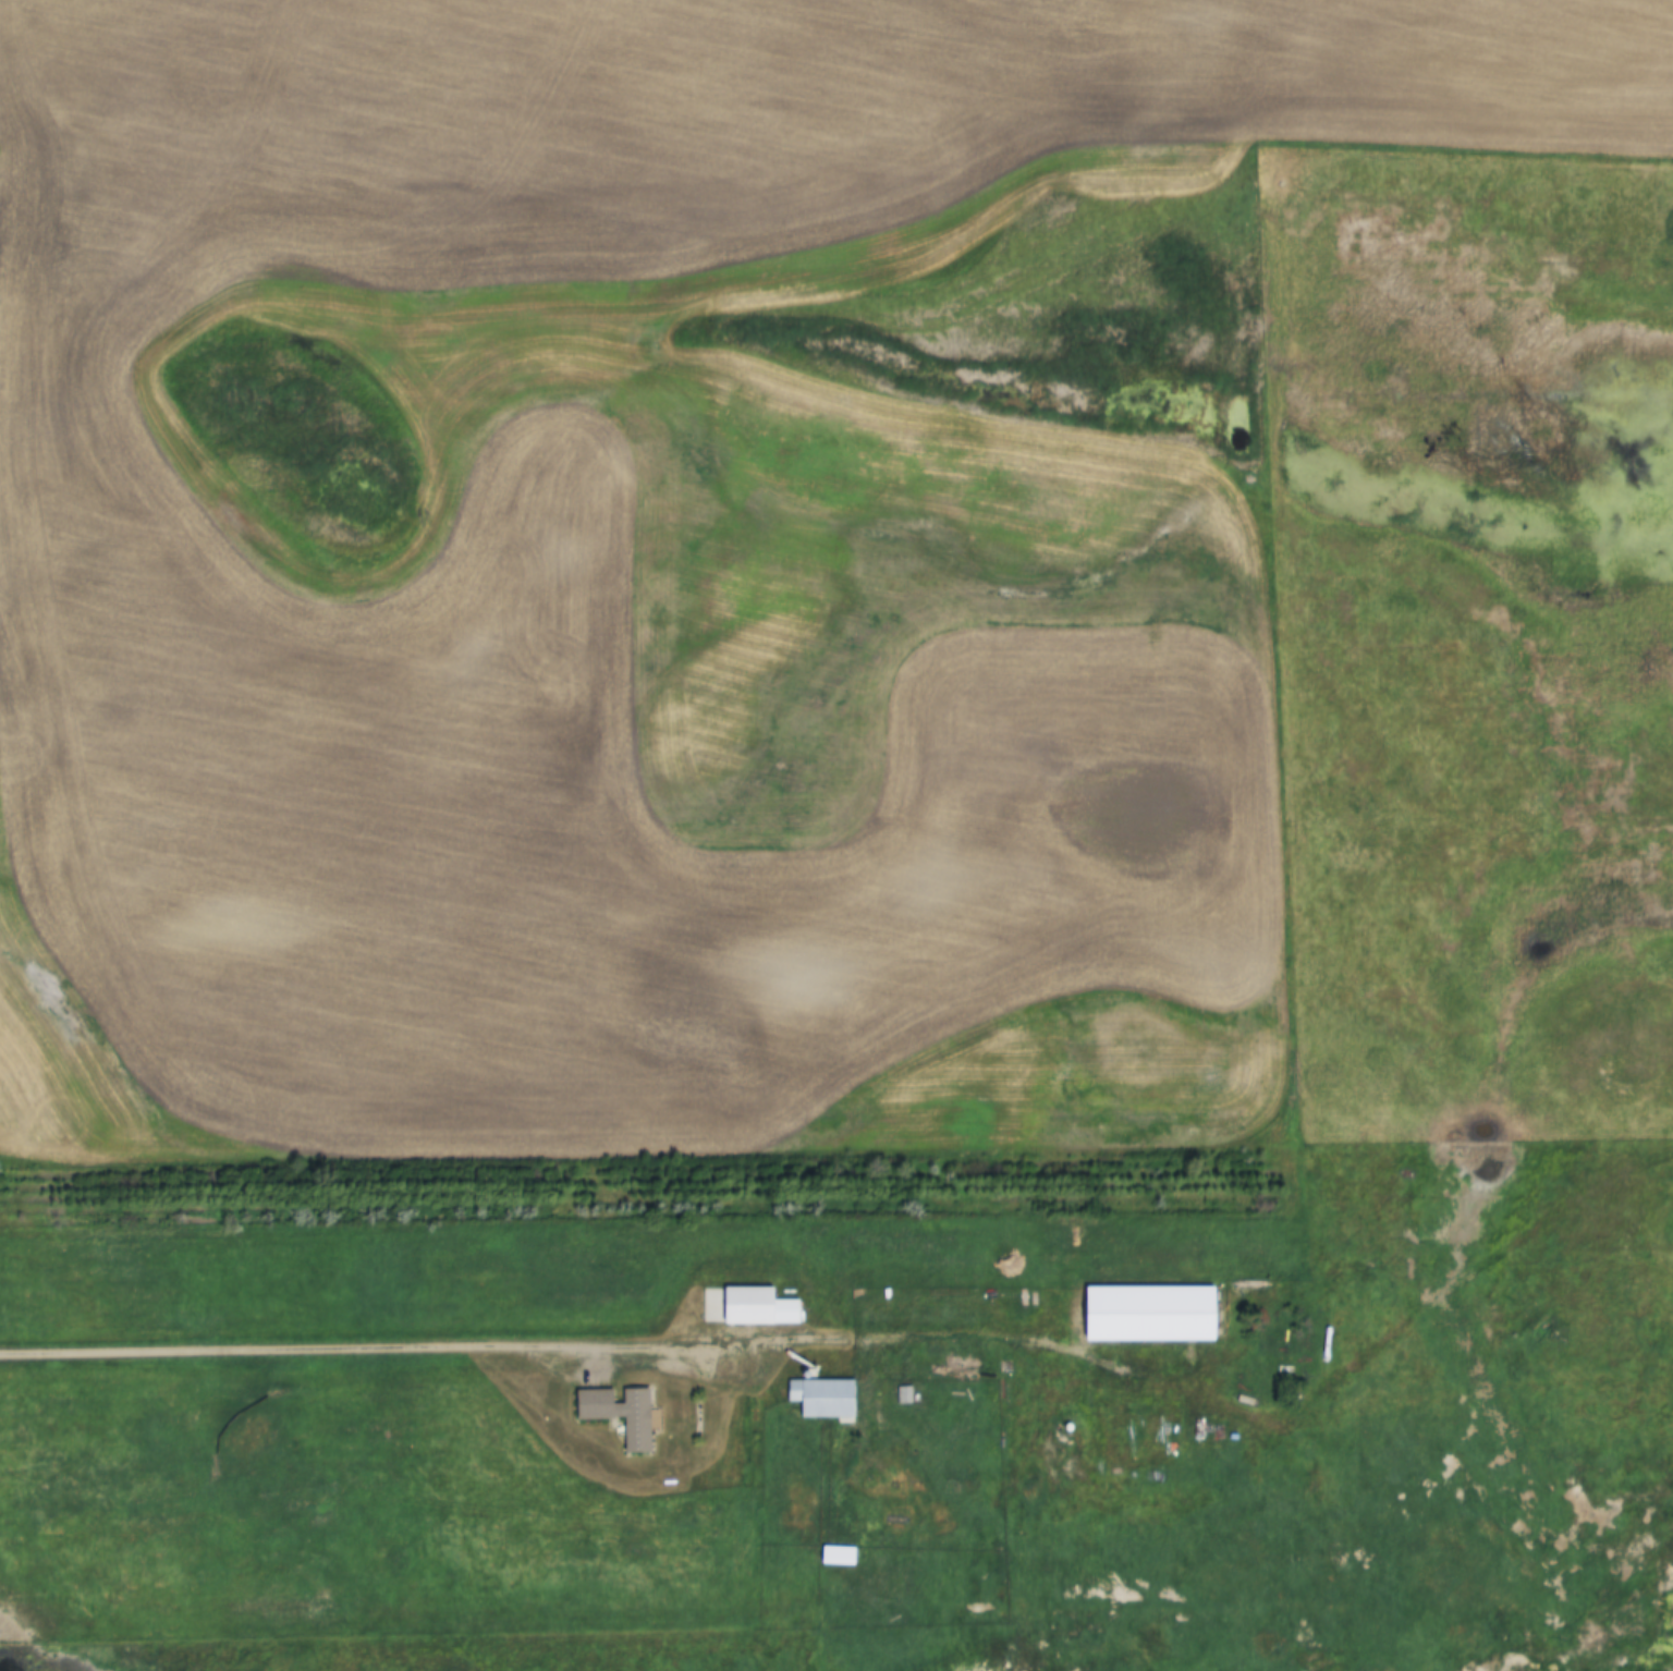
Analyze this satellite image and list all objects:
building: (764, 1307)
road: (644, 1345)
building: (1008, 1367)
building: (907, 1395)
building: (828, 1398)
building: (625, 1414)

